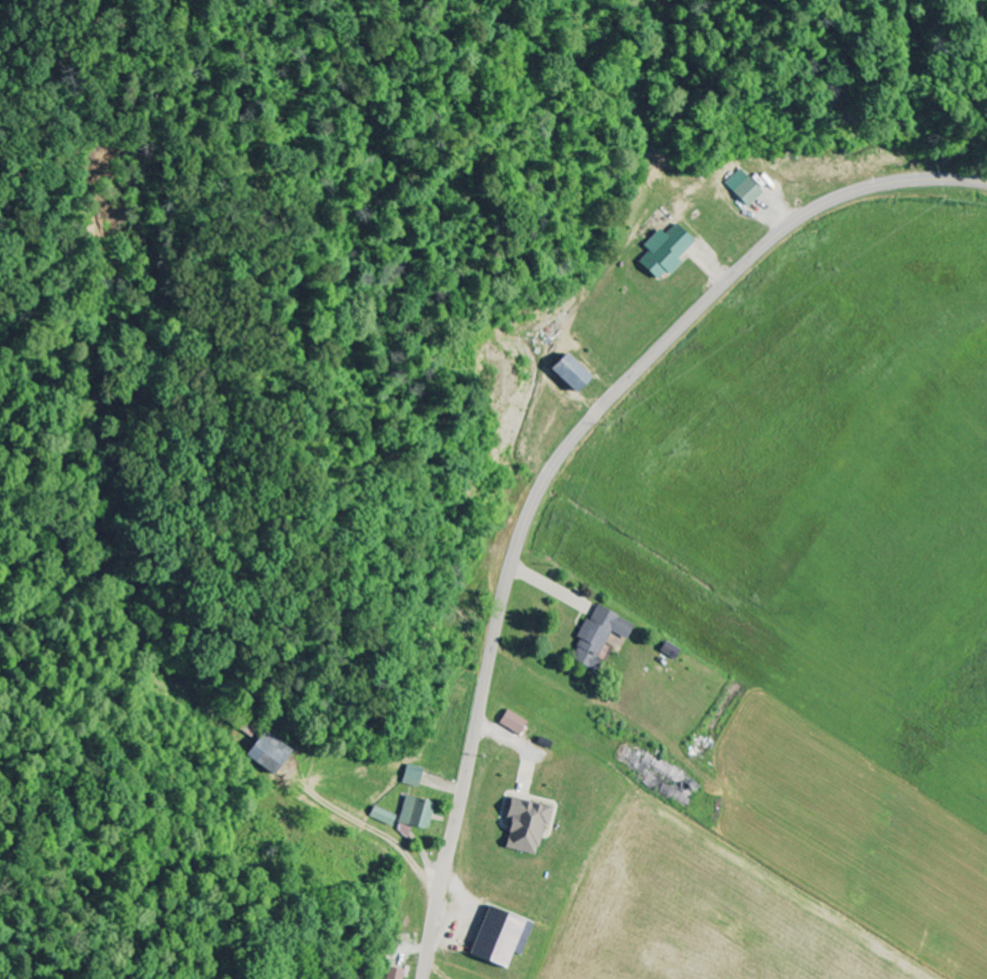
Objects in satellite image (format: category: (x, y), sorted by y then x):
building: (742, 189)
building: (663, 253)
building: (566, 374)
road: (558, 460)
building: (667, 650)
building: (510, 722)
building: (269, 753)
building: (410, 776)
building: (415, 813)
building: (381, 816)
building: (522, 826)
building: (497, 937)
building: (394, 973)

